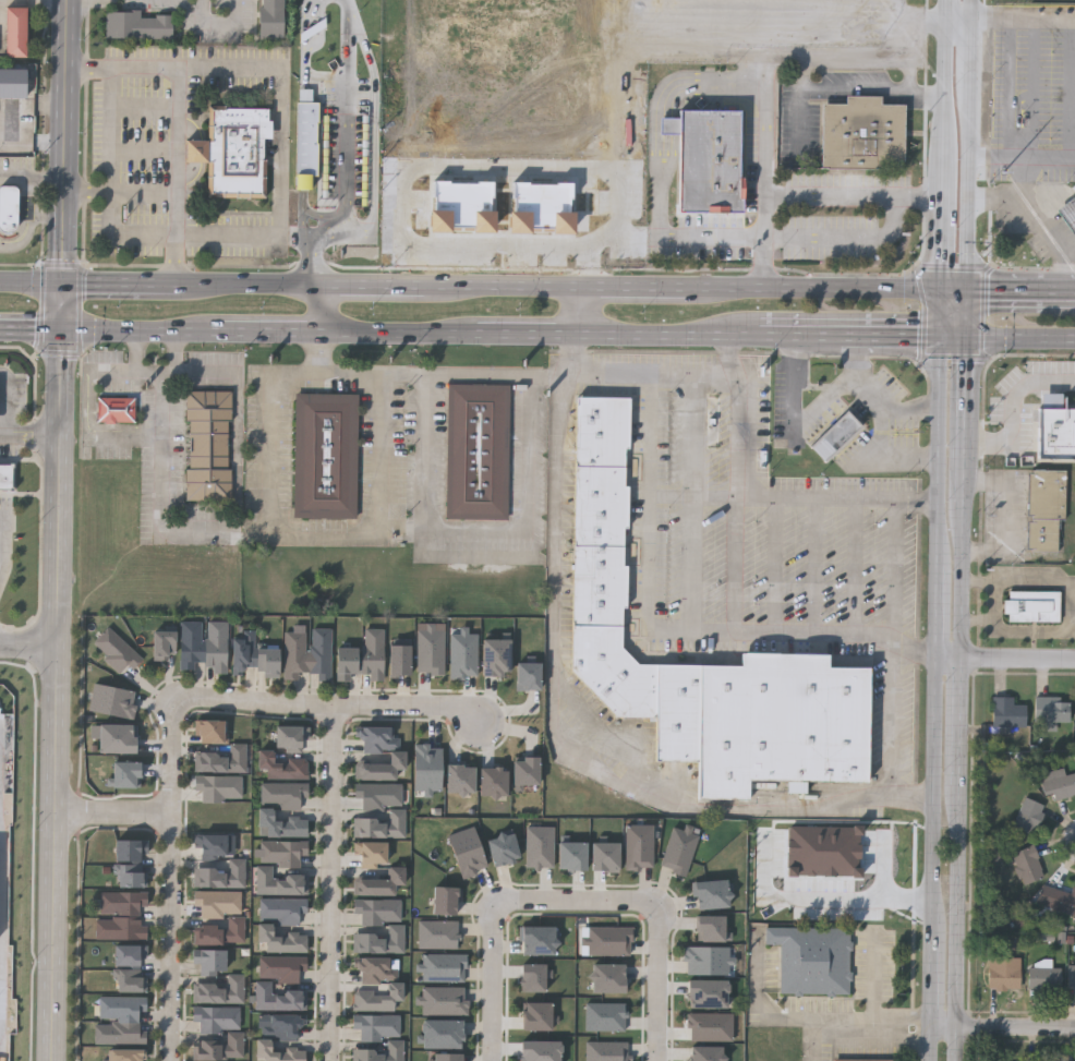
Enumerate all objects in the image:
road: (49, 1)
road: (949, 8)
road: (974, 8)
road: (961, 16)
building: (270, 17)
road: (1039, 20)
road: (917, 23)
building: (137, 24)
road: (219, 25)
building: (15, 31)
road: (311, 37)
road: (973, 46)
road: (770, 53)
road: (693, 56)
parking lot: (218, 68)
road: (89, 70)
road: (905, 70)
road: (197, 71)
building: (521, 73)
road: (703, 84)
road: (874, 89)
road: (1072, 89)
road: (802, 97)
building: (11, 103)
road: (26, 104)
road: (946, 105)
road: (146, 107)
road: (619, 123)
road: (667, 124)
road: (186, 132)
building: (863, 133)
road: (306, 136)
road: (375, 136)
road: (444, 143)
road: (33, 144)
building: (307, 144)
building: (233, 150)
road: (145, 152)
road: (195, 153)
road: (281, 155)
road: (988, 157)
road: (1004, 157)
building: (708, 158)
road: (1049, 158)
parking lot: (132, 161)
road: (67, 166)
road: (189, 176)
road: (179, 178)
power tower: (1006, 182)
road: (970, 183)
road: (666, 185)
road: (345, 190)
road: (805, 190)
road: (88, 195)
road: (145, 196)
road: (997, 201)
road: (597, 207)
building: (9, 212)
road: (317, 213)
building: (1068, 213)
building: (515, 222)
road: (113, 233)
parking lot: (226, 233)
road: (847, 233)
road: (678, 238)
road: (944, 242)
road: (518, 246)
road: (1071, 250)
road: (593, 265)
road: (32, 285)
traffic signals: (63, 285)
road: (120, 285)
road: (559, 287)
traffic signals: (943, 290)
road: (955, 290)
traffic signals: (967, 291)
road: (1020, 291)
road: (591, 310)
road: (322, 312)
road: (943, 312)
road: (966, 313)
road: (31, 333)
traffic signals: (62, 333)
road: (411, 334)
road: (801, 334)
road: (892, 335)
traffic signals: (944, 335)
road: (955, 335)
traffic signals: (966, 336)
road: (1020, 336)
road: (326, 353)
road: (176, 354)
parking lot: (217, 360)
road: (132, 374)
road: (207, 375)
road: (424, 375)
road: (661, 378)
road: (16, 384)
parking lot: (892, 385)
road: (819, 388)
road: (841, 390)
road: (794, 393)
road: (868, 399)
parking lot: (781, 401)
building: (118, 410)
road: (1015, 410)
parking lot: (859, 411)
road: (890, 412)
road: (963, 415)
parking lot: (825, 422)
road: (31, 425)
building: (1056, 426)
road: (98, 433)
building: (837, 435)
parking lot: (905, 435)
building: (209, 445)
parking lot: (402, 445)
parking lot: (177, 449)
parking lot: (853, 449)
road: (942, 449)
road: (424, 450)
parking lot: (438, 451)
building: (479, 451)
road: (240, 453)
building: (327, 456)
parking lot: (312, 457)
road: (910, 461)
parking lot: (542, 469)
building: (7, 475)
road: (161, 490)
parking lot: (147, 497)
road: (797, 499)
road: (696, 505)
road: (738, 506)
building: (1044, 511)
parking lot: (206, 513)
road: (1003, 513)
road: (961, 526)
road: (529, 528)
parking lot: (757, 530)
road: (325, 539)
parking lot: (481, 545)
road: (10, 548)
road: (463, 557)
building: (605, 562)
road: (777, 566)
road: (814, 567)
road: (856, 567)
road: (897, 571)
road: (648, 605)
road: (961, 606)
building: (1032, 606)
road: (940, 611)
road: (877, 635)
road: (29, 643)
building: (164, 644)
building: (203, 644)
building: (432, 648)
building: (116, 650)
building: (307, 652)
building: (464, 654)
road: (916, 654)
building: (252, 655)
building: (362, 656)
building: (497, 658)
road: (950, 658)
building: (401, 659)
road: (1018, 659)
building: (530, 676)
road: (59, 697)
building: (113, 701)
road: (331, 706)
building: (678, 712)
building: (1052, 712)
building: (1008, 713)
parking lot: (894, 719)
road: (893, 721)
building: (782, 723)
road: (961, 725)
building: (1074, 730)
building: (212, 731)
road: (552, 736)
building: (291, 737)
building: (117, 738)
building: (383, 751)
building: (222, 759)
building: (283, 765)
building: (428, 769)
building: (527, 772)
building: (126, 775)
building: (461, 780)
building: (494, 782)
building: (1059, 782)
building: (220, 787)
building: (283, 794)
building: (378, 794)
road: (934, 799)
road: (116, 813)
building: (1028, 816)
building: (280, 824)
building: (382, 824)
building: (209, 844)
building: (541, 847)
building: (640, 847)
building: (130, 849)
building: (505, 849)
building: (680, 851)
building: (825, 851)
building: (468, 852)
building: (995, 852)
building: (372, 853)
building: (573, 856)
building: (606, 857)
building: (281, 867)
building: (1028, 867)
building: (131, 876)
building: (220, 876)
road: (174, 880)
building: (381, 882)
road: (333, 883)
building: (714, 894)
road: (823, 897)
building: (447, 901)
road: (577, 902)
building: (1063, 902)
building: (282, 909)
building: (377, 911)
building: (122, 915)
building: (233, 919)
road: (957, 926)
building: (713, 929)
building: (438, 935)
building: (280, 939)
building: (382, 940)
building: (541, 941)
building: (608, 941)
building: (814, 960)
building: (709, 961)
building: (210, 962)
building: (281, 966)
building: (129, 967)
building: (444, 968)
building: (1003, 975)
building: (536, 978)
building: (609, 978)
building: (1071, 978)
road: (492, 980)
building: (1044, 980)
road: (659, 982)
building: (376, 984)
road: (933, 984)
road: (874, 985)
building: (221, 990)
building: (710, 993)
building: (279, 997)
building: (444, 1001)
building: (541, 1016)
building: (606, 1017)
building: (217, 1018)
building: (121, 1020)
road: (873, 1020)
building: (283, 1026)
building: (712, 1026)
road: (1003, 1027)
building: (444, 1034)
building: (379, 1037)
road: (814, 1040)
road: (932, 1042)
building: (221, 1047)
building: (278, 1051)
building: (542, 1051)
building: (608, 1051)
building: (706, 1053)
building: (122, 1054)
building: (447, 1057)
building: (865, 1060)

